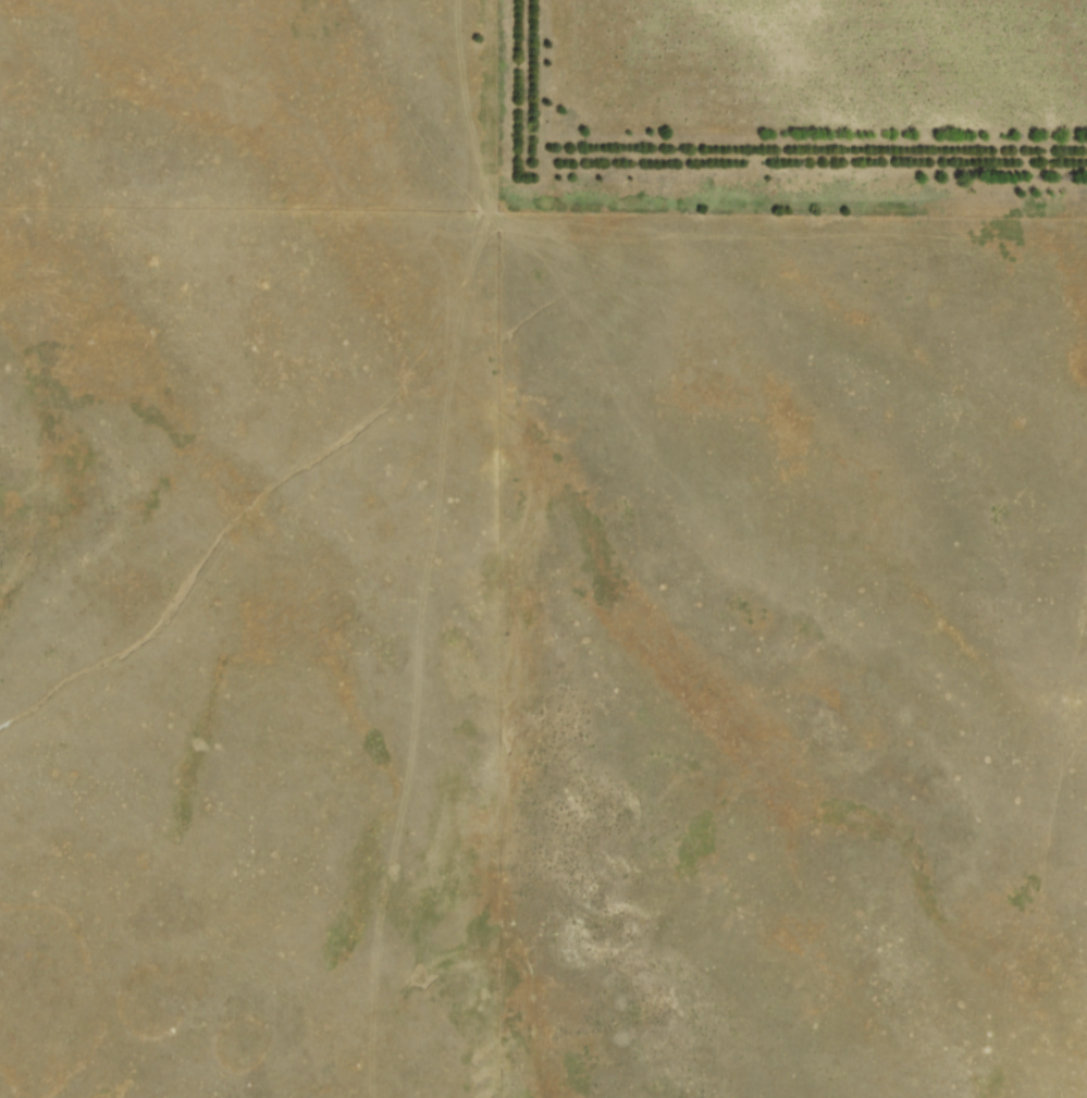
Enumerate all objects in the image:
crop: (826, 62)

